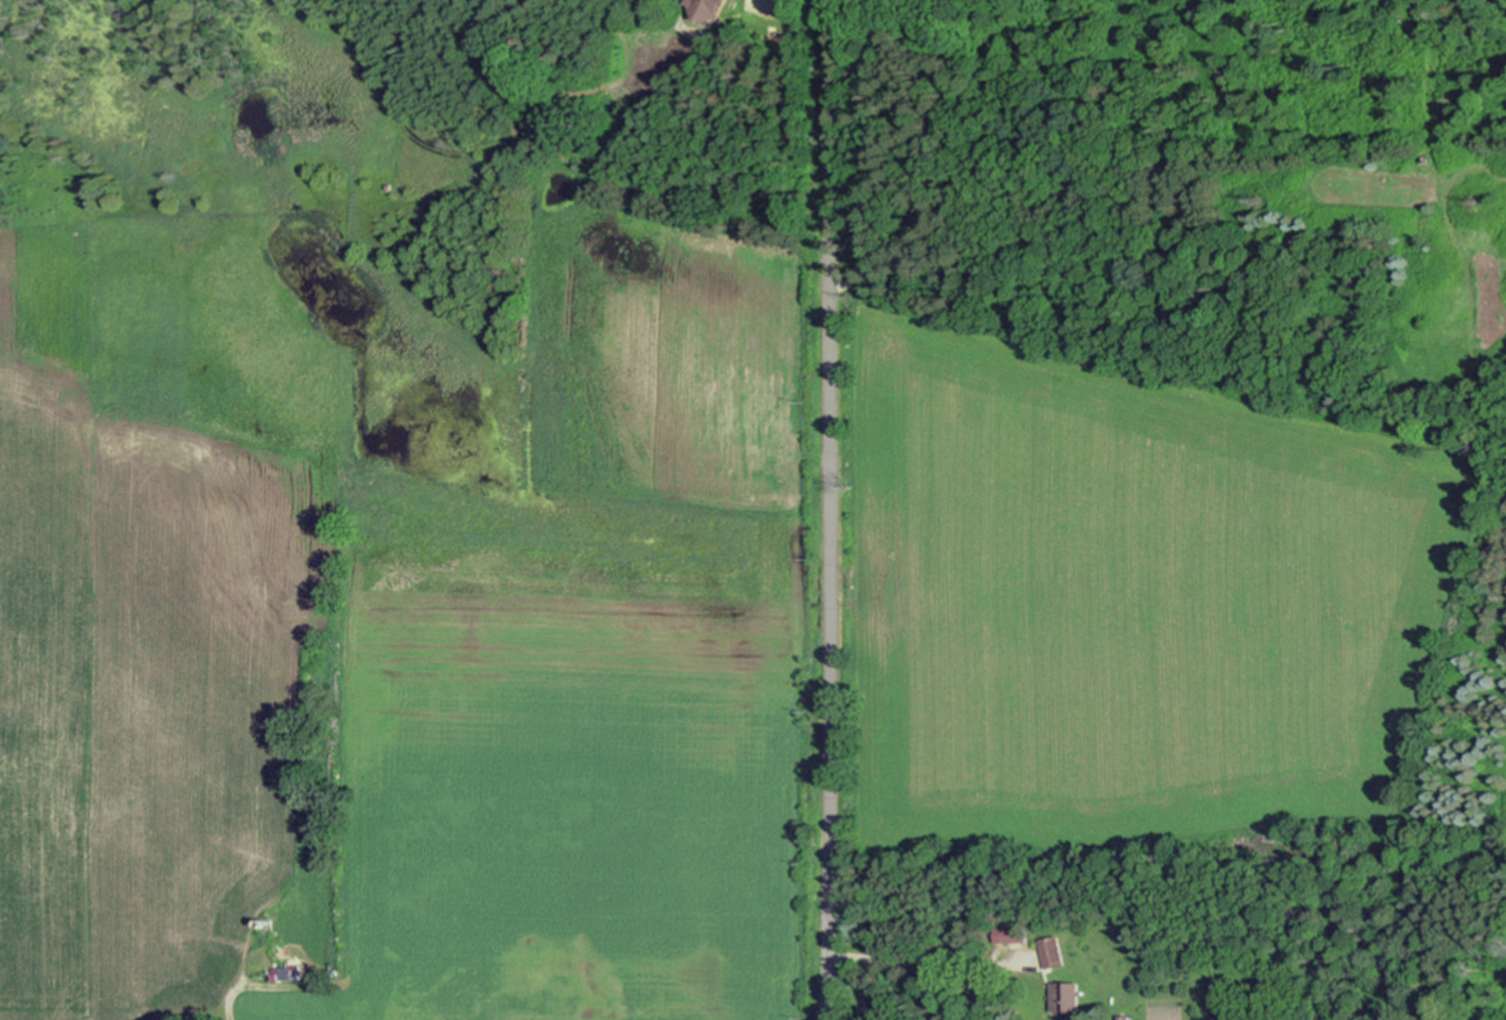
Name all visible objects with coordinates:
building: (713, 8)
road: (801, 18)
road: (829, 510)
building: (1018, 935)
building: (296, 948)
building: (1057, 952)
road: (899, 959)
building: (1070, 997)

